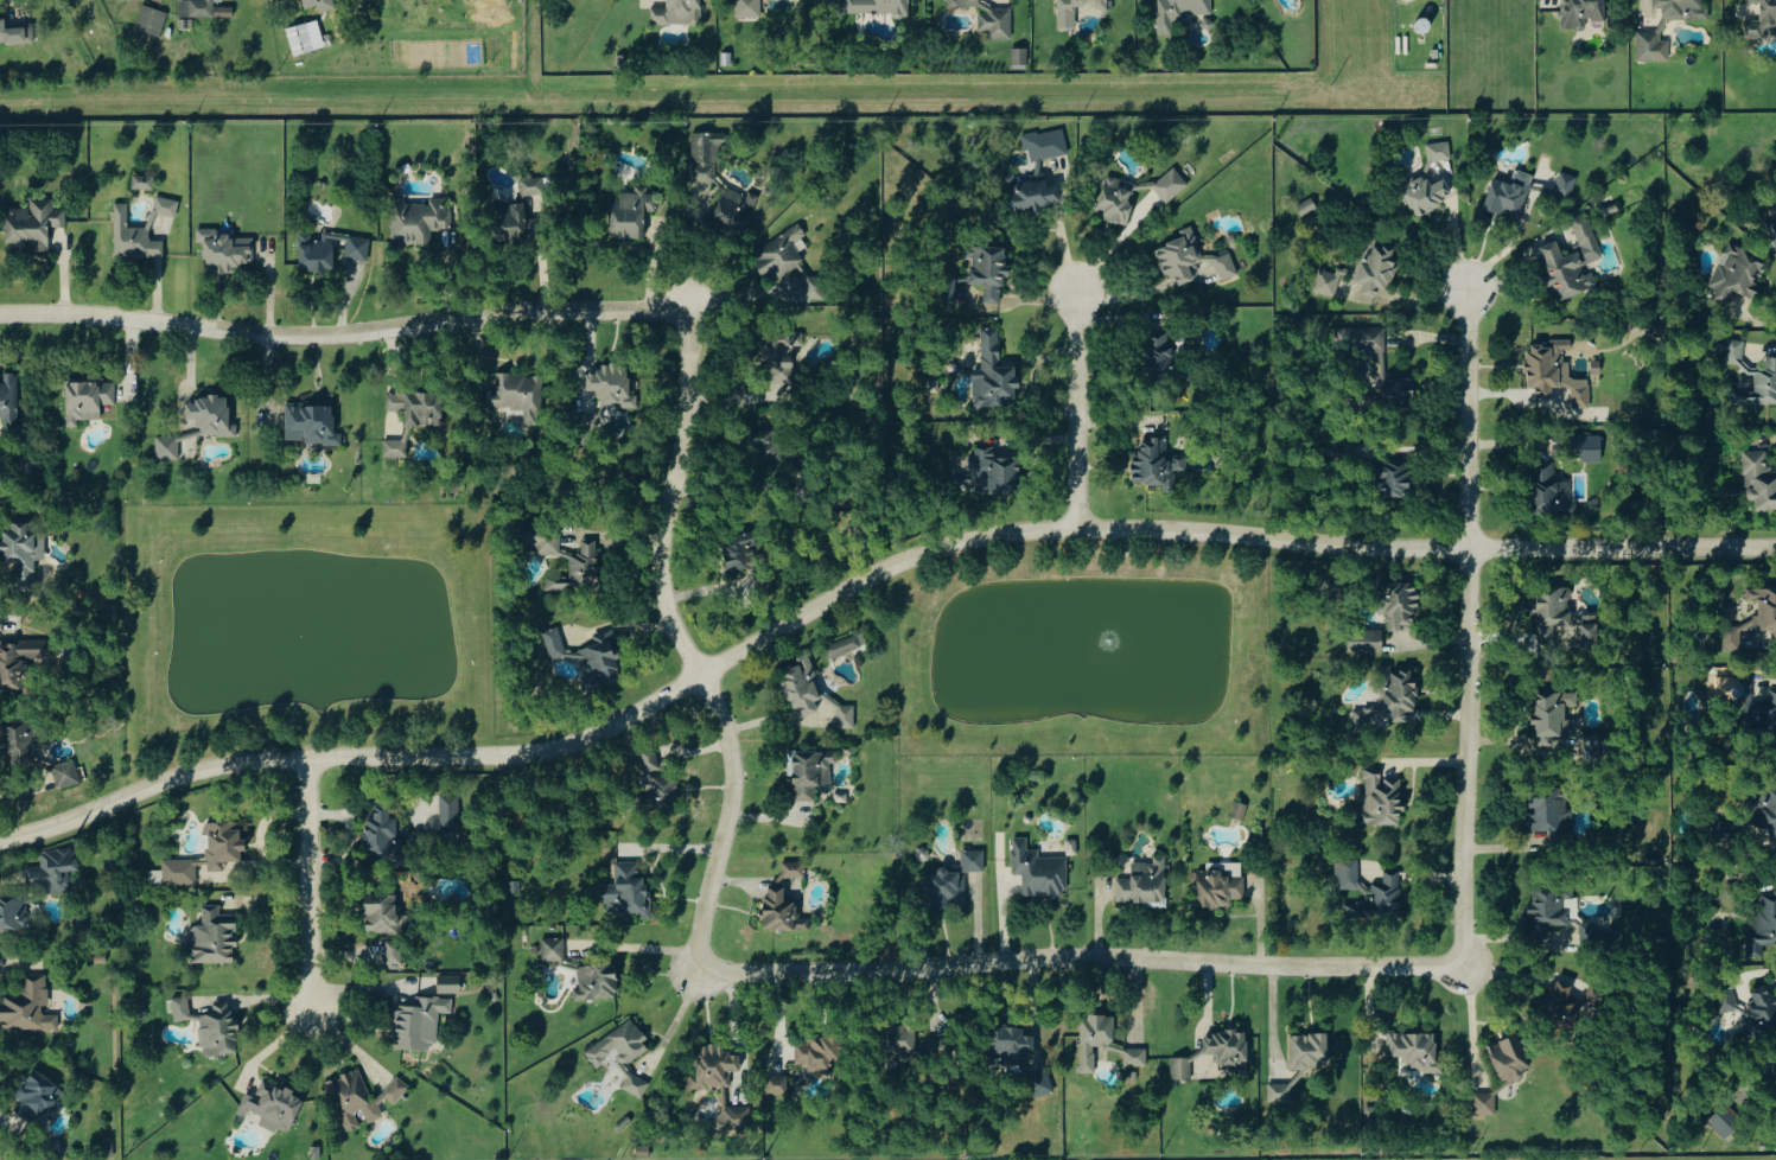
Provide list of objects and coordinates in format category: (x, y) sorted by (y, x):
building: (287, 0)
building: (320, 5)
building: (878, 6)
building: (1078, 11)
building: (1182, 12)
building: (223, 13)
building: (679, 13)
building: (1583, 13)
building: (989, 18)
building: (1762, 20)
building: (149, 21)
building: (1662, 25)
building: (15, 34)
building: (304, 39)
building: (1020, 57)
building: (1046, 144)
building: (1439, 151)
building: (142, 183)
building: (533, 185)
building: (1171, 185)
building: (1566, 185)
building: (1430, 189)
building: (1510, 193)
building: (1033, 195)
building: (1116, 200)
building: (166, 206)
building: (1307, 206)
building: (631, 211)
building: (418, 218)
building: (516, 218)
building: (34, 223)
building: (1774, 227)
building: (134, 237)
building: (358, 248)
building: (224, 249)
building: (316, 253)
building: (782, 253)
building: (1193, 259)
building: (1573, 260)
building: (988, 269)
building: (1363, 270)
building: (1738, 272)
building: (815, 287)
building: (949, 289)
road: (1409, 299)
building: (1655, 331)
road: (344, 333)
building: (1367, 340)
building: (782, 351)
building: (1159, 352)
building: (1759, 370)
building: (1555, 371)
building: (994, 372)
building: (613, 384)
building: (1401, 388)
building: (9, 395)
building: (518, 395)
building: (88, 399)
building: (416, 406)
road: (1076, 412)
building: (212, 415)
road: (1469, 420)
building: (312, 423)
building: (765, 444)
building: (1587, 446)
building: (167, 447)
building: (393, 450)
building: (1158, 464)
building: (998, 471)
building: (1394, 477)
building: (1759, 480)
road: (730, 485)
building: (1552, 491)
building: (543, 538)
building: (24, 548)
building: (740, 550)
building: (585, 561)
building: (555, 584)
road: (859, 586)
building: (1400, 604)
building: (1767, 612)
building: (1564, 617)
park: (305, 632)
building: (1366, 640)
road: (686, 645)
building: (841, 648)
building: (590, 656)
park: (1087, 658)
building: (17, 662)
building: (1392, 700)
building: (1756, 705)
building: (1553, 714)
building: (18, 740)
road: (1469, 759)
building: (811, 772)
building: (65, 773)
building: (657, 782)
building: (1382, 799)
building: (1764, 809)
building: (450, 811)
building: (1237, 811)
building: (1551, 811)
building: (1723, 830)
building: (383, 835)
building: (208, 854)
building: (53, 871)
building: (1039, 871)
building: (1348, 874)
building: (955, 880)
building: (1145, 882)
road: (310, 886)
building: (1221, 886)
building: (628, 891)
building: (1388, 894)
building: (785, 901)
building: (1551, 909)
building: (14, 912)
building: (384, 913)
building: (1763, 926)
building: (212, 938)
building: (554, 949)
building: (394, 952)
road: (1077, 961)
building: (598, 982)
building: (447, 984)
building: (495, 996)
building: (1561, 1001)
building: (28, 1007)
building: (182, 1008)
building: (419, 1022)
road: (1471, 1025)
building: (218, 1030)
building: (902, 1038)
building: (1095, 1041)
building: (1010, 1044)
building: (1310, 1050)
building: (819, 1051)
building: (1417, 1051)
building: (623, 1052)
building: (1216, 1052)
building: (1137, 1057)
building: (1510, 1059)
building: (715, 1066)
building: (1040, 1084)
building: (1281, 1094)
building: (38, 1095)
building: (361, 1097)
building: (1484, 1104)
building: (273, 1107)
building: (741, 1113)
road: (7, 1121)
building: (1725, 1121)
building: (313, 1153)

